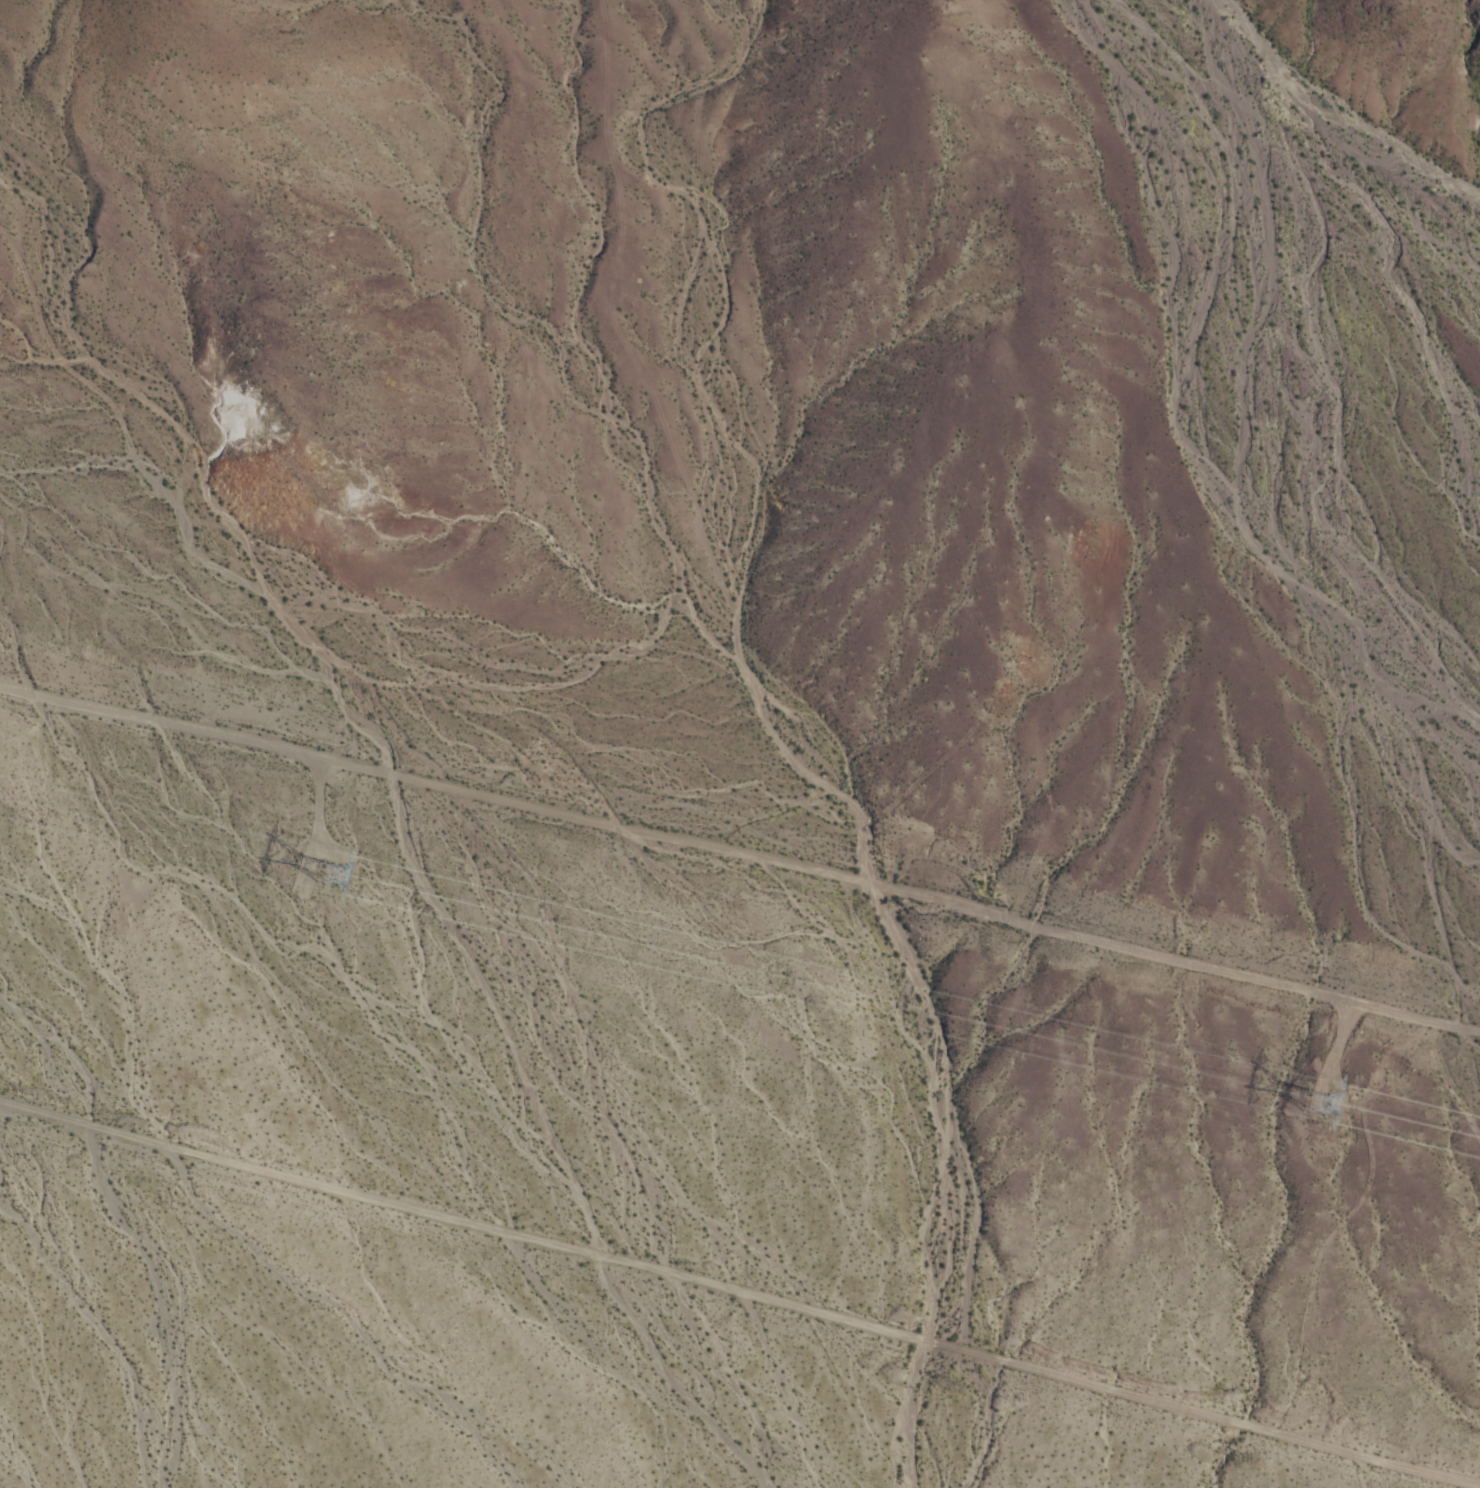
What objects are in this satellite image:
road: (975, 754)
road: (740, 849)
road: (422, 862)
power tower: (353, 866)
power tower: (1337, 1104)
road: (737, 1293)

